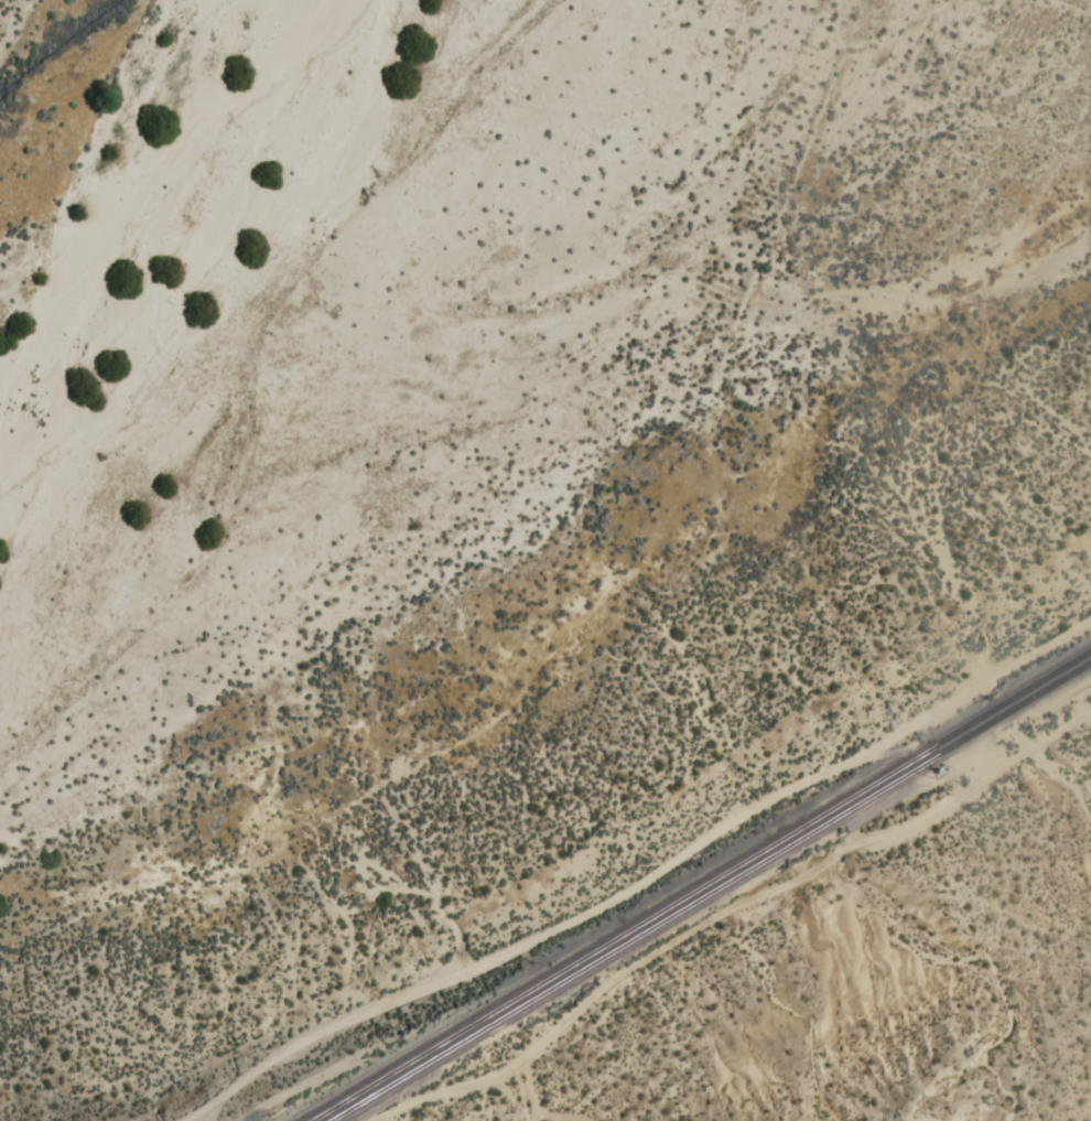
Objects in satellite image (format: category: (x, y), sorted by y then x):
railway: (1048, 676)
railway: (1050, 687)
railway: (996, 708)
railway: (1001, 715)
road: (647, 871)
railway: (647, 916)
railway: (659, 920)

